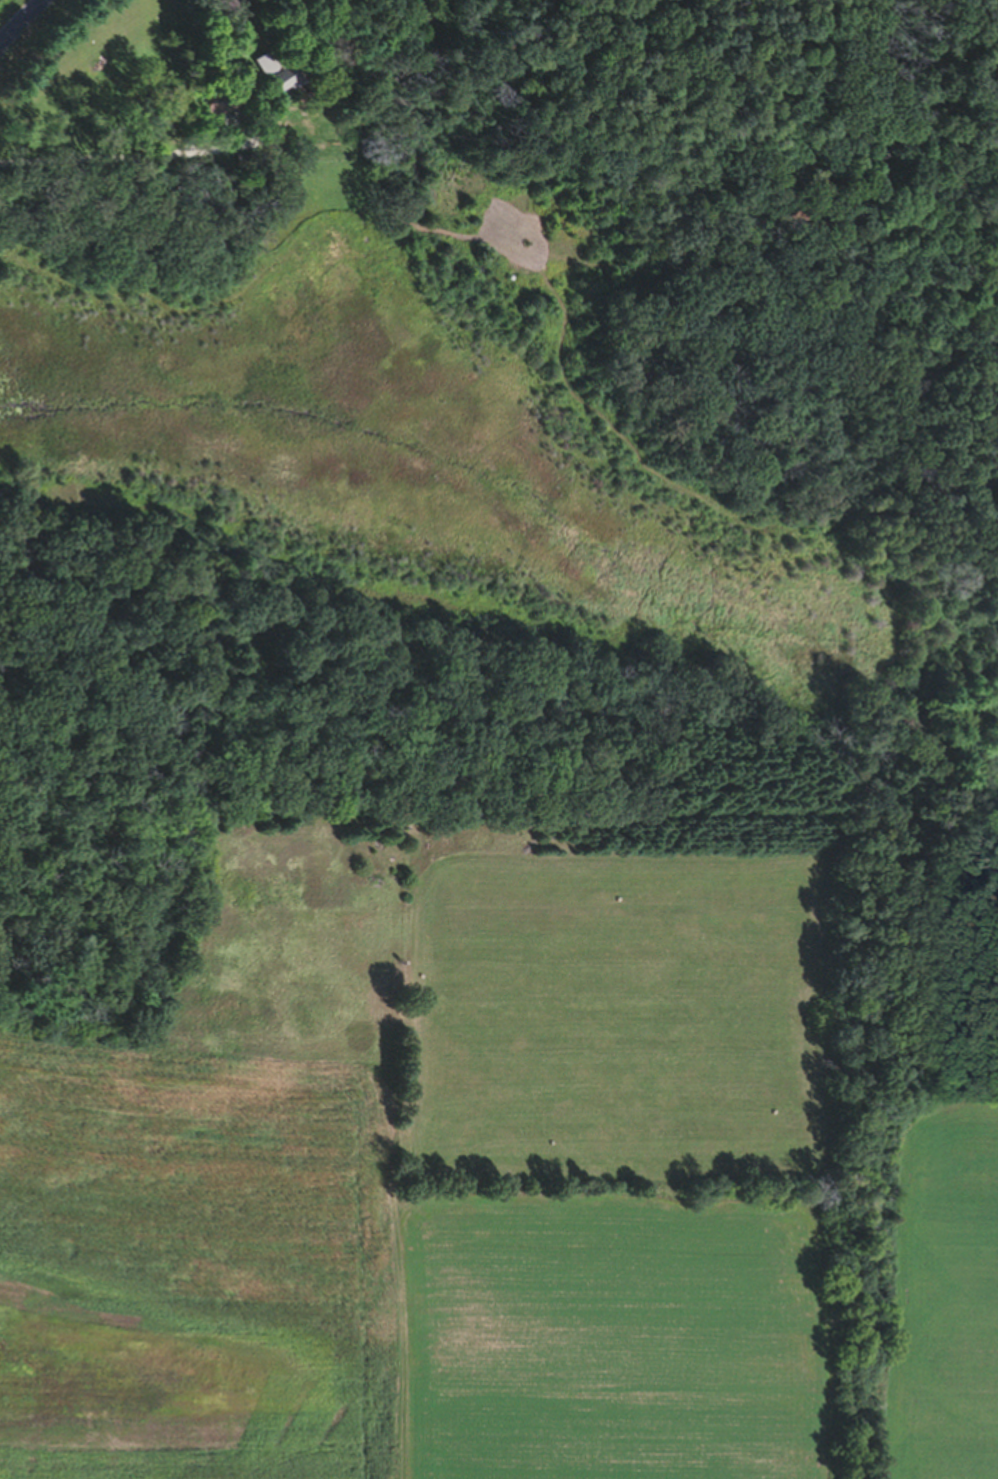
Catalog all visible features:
road: (14, 15)
road: (79, 201)

